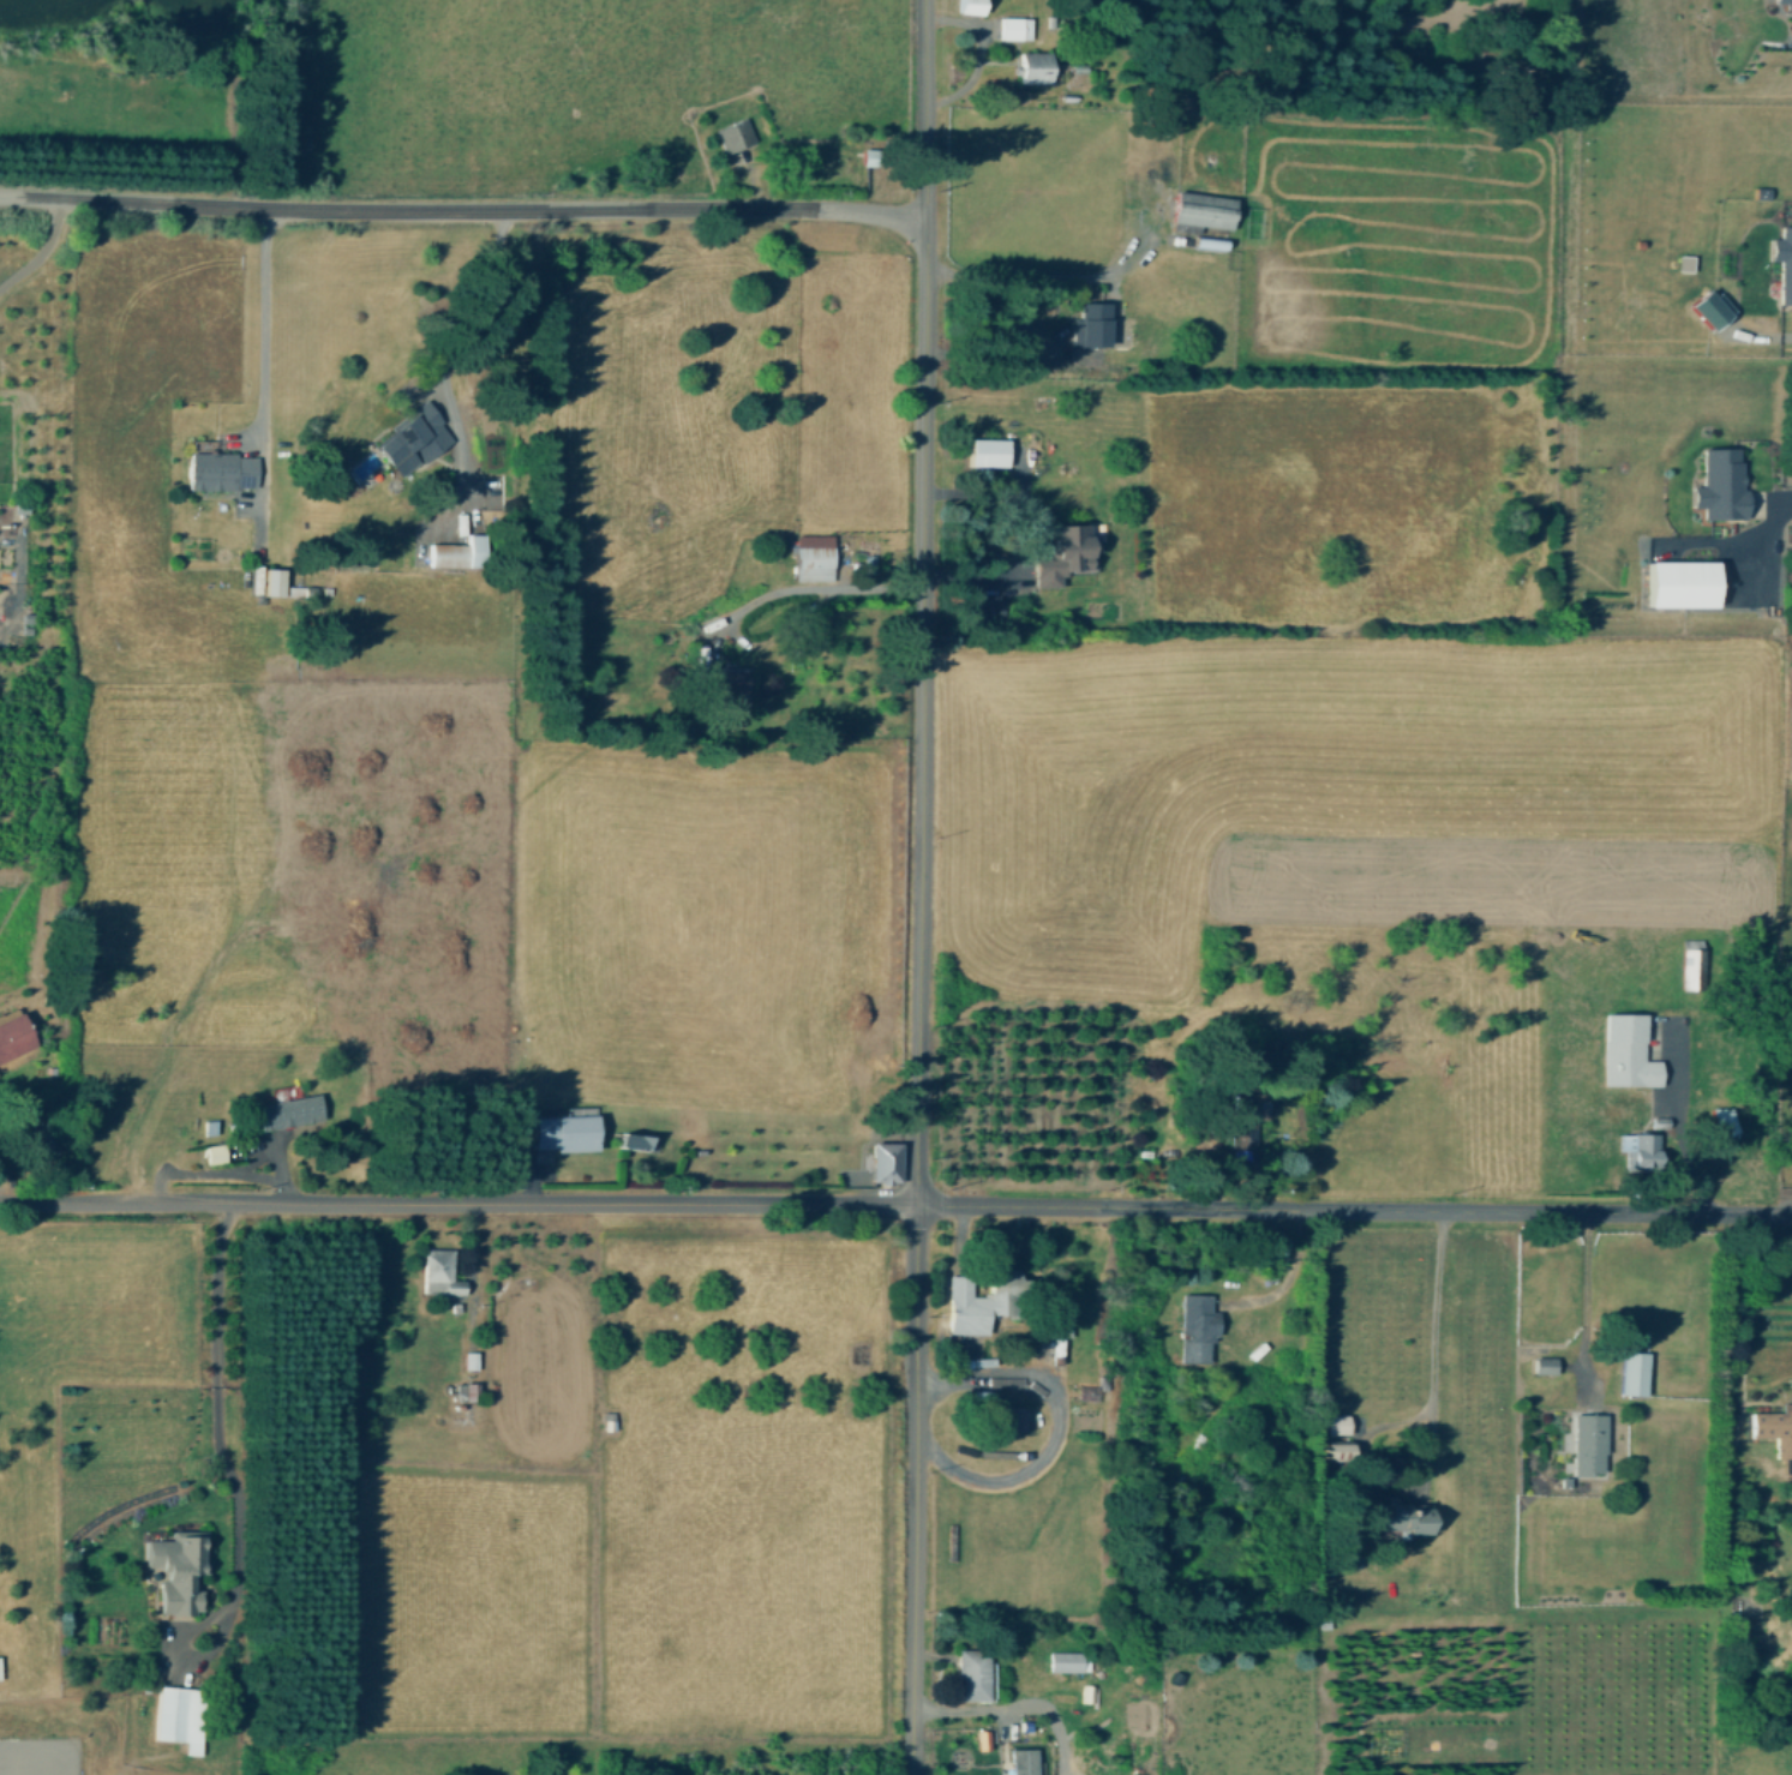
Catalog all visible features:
building: (1786, 2)
building: (972, 6)
building: (1017, 26)
building: (1038, 66)
crop: (465, 83)
building: (736, 133)
building: (873, 155)
building: (1205, 210)
road: (462, 211)
road: (38, 248)
building: (1785, 260)
road: (1049, 275)
building: (1713, 308)
road: (460, 319)
building: (1093, 322)
road: (990, 353)
road: (264, 383)
building: (415, 438)
building: (990, 450)
building: (223, 468)
building: (1725, 482)
road: (1021, 538)
building: (461, 551)
building: (1067, 552)
building: (816, 556)
building: (275, 580)
building: (1688, 581)
road: (813, 590)
road: (922, 604)
crop: (184, 952)
building: (1694, 963)
building: (1630, 1050)
building: (290, 1110)
road: (1679, 1120)
building: (568, 1131)
building: (1245, 1133)
building: (1643, 1147)
building: (216, 1151)
building: (888, 1161)
road: (214, 1176)
road: (457, 1204)
road: (1354, 1211)
crop: (653, 1241)
building: (442, 1271)
road: (1289, 1275)
building: (983, 1300)
road: (1577, 1303)
building: (1199, 1326)
road: (1431, 1337)
building: (472, 1357)
building: (1548, 1362)
building: (1636, 1371)
road: (228, 1415)
building: (1339, 1422)
building: (1776, 1426)
road: (1056, 1428)
building: (1592, 1441)
building: (1339, 1449)
road: (913, 1491)
building: (1406, 1516)
building: (178, 1565)
building: (1067, 1660)
building: (0, 1666)
building: (975, 1673)
building: (182, 1715)
building: (1025, 1761)

